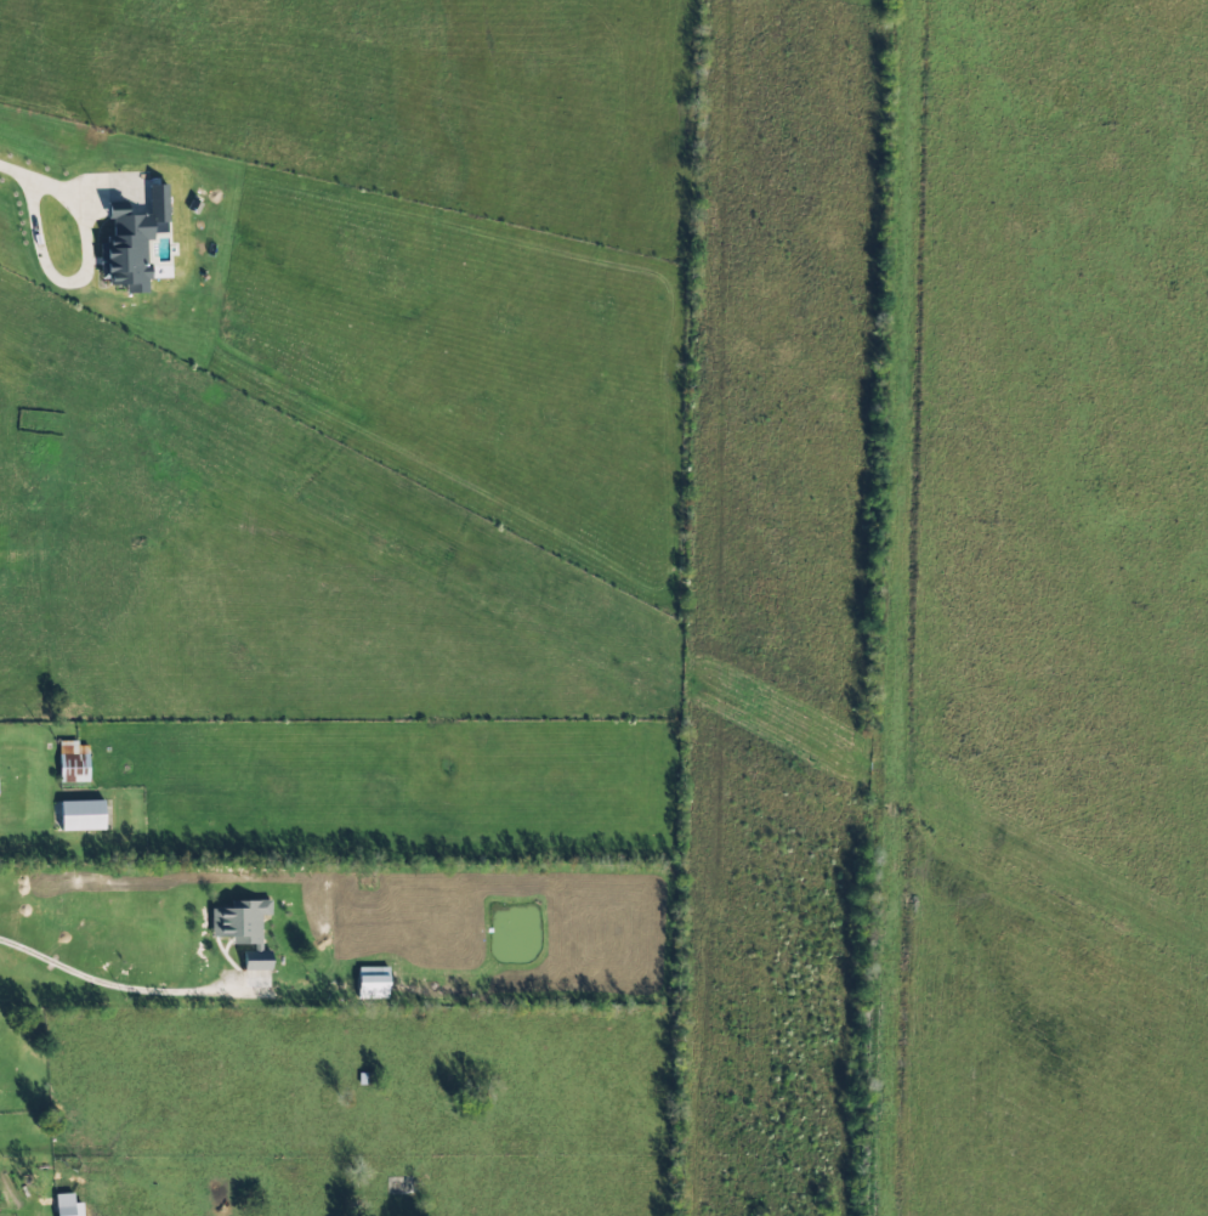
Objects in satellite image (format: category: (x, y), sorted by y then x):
building: (134, 242)
building: (73, 762)
building: (81, 814)
building: (243, 928)
building: (373, 982)
building: (67, 1205)

